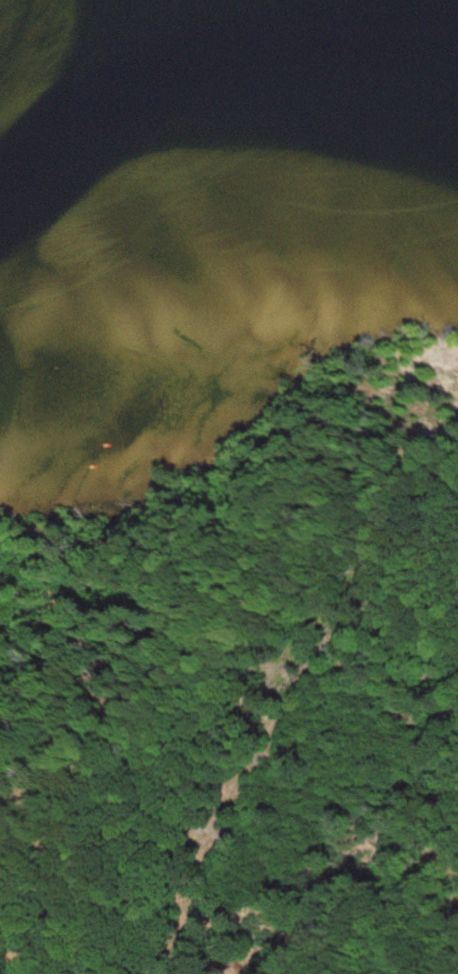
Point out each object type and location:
river: (133, 78)
park: (245, 688)

